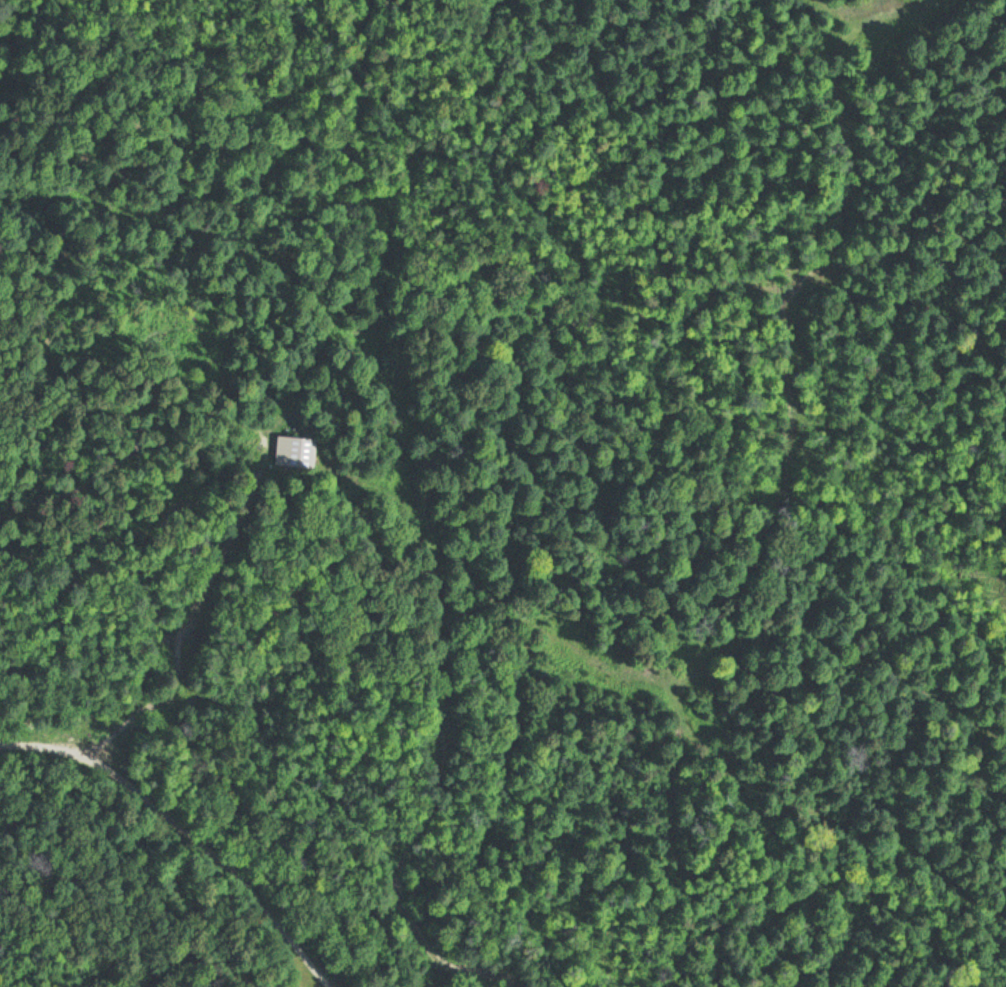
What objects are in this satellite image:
building: (293, 452)
road: (187, 831)

